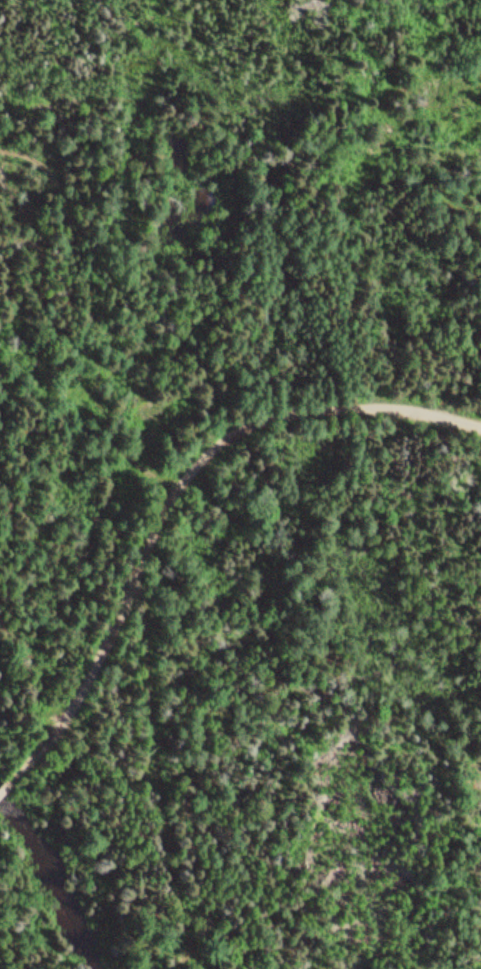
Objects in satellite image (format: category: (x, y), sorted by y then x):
road: (173, 502)
river: (56, 843)

